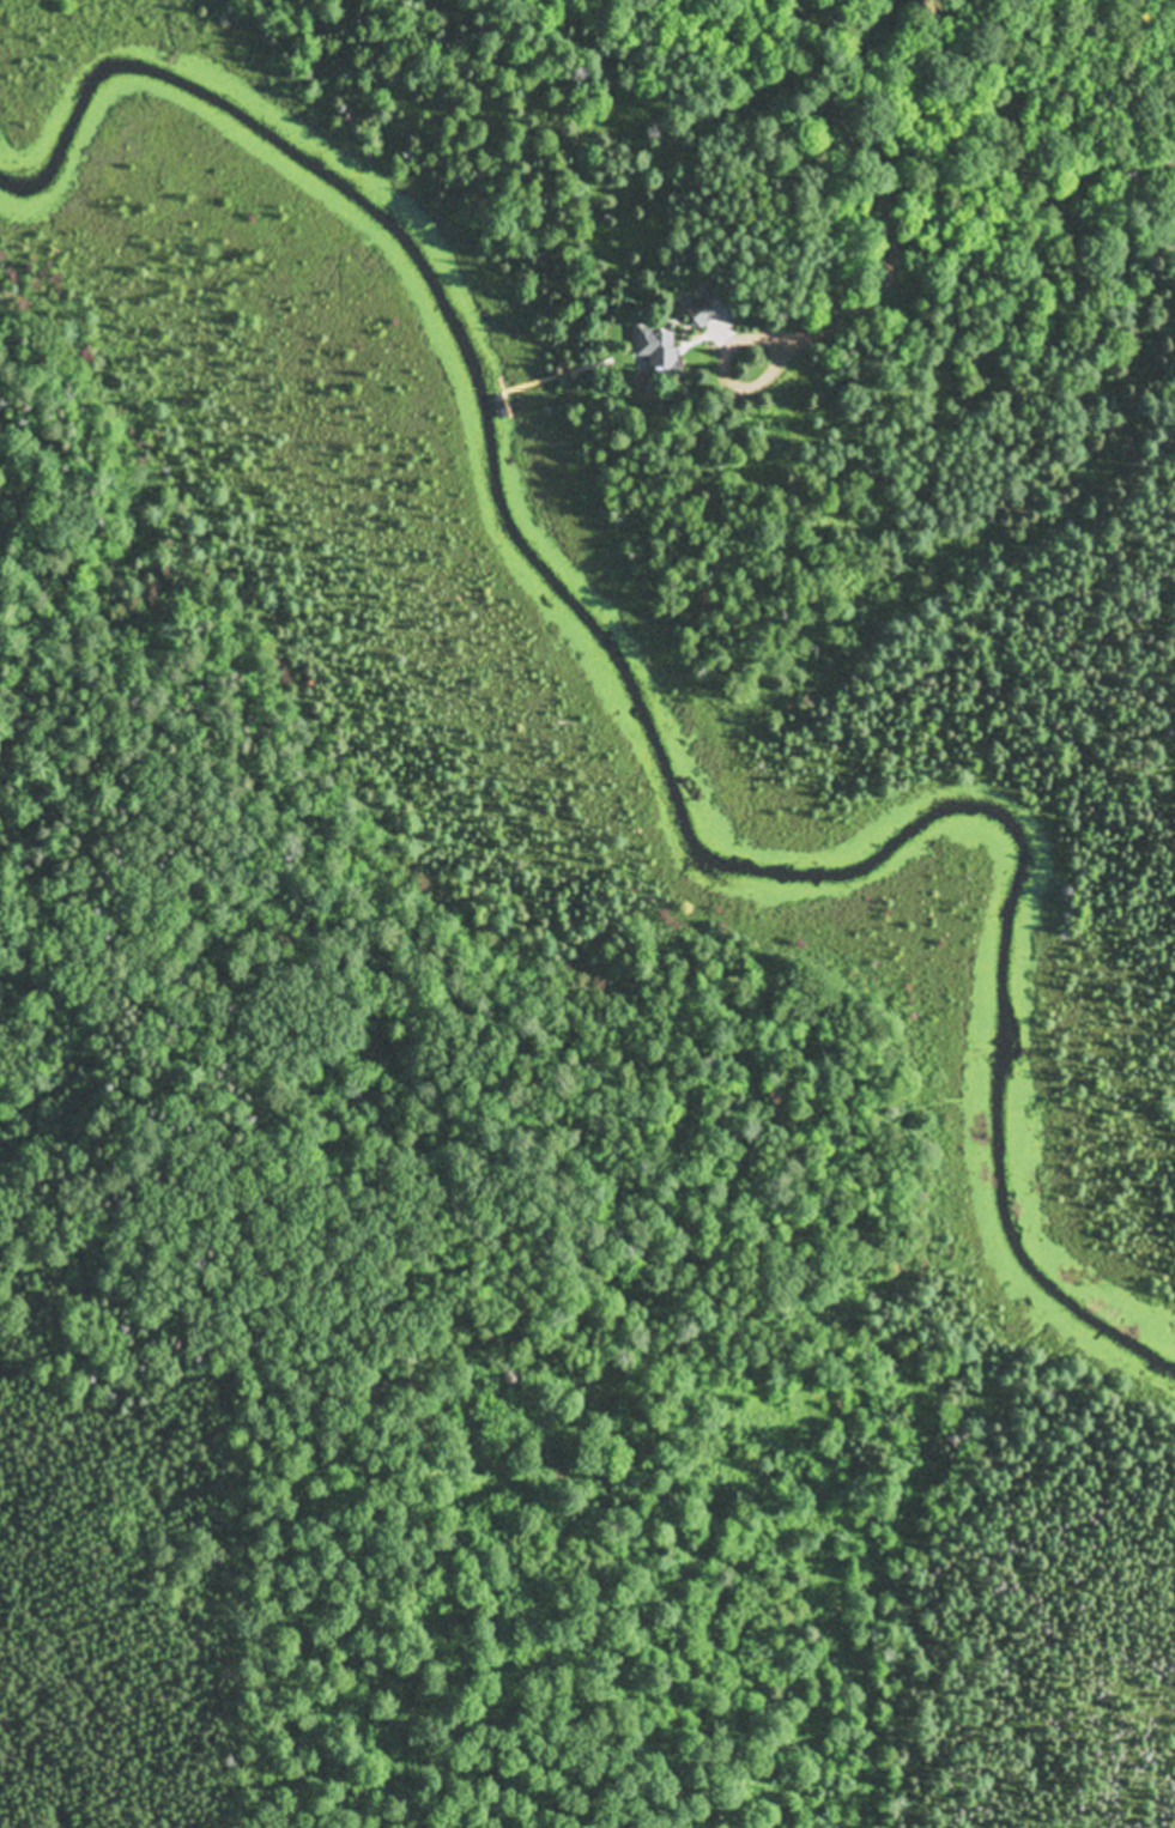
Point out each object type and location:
building: (650, 347)

